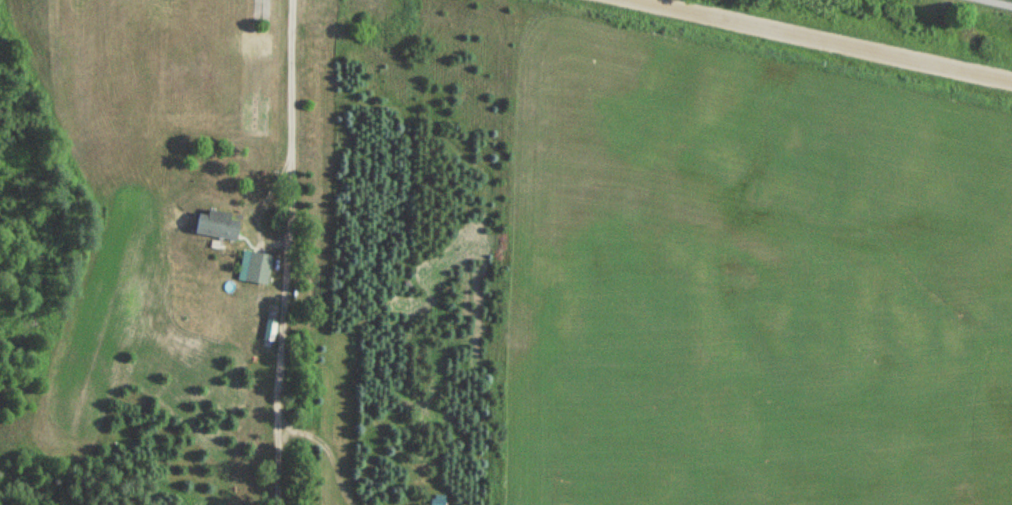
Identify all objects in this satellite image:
road: (992, 4)
road: (816, 43)
building: (214, 225)
building: (255, 268)
building: (435, 502)

